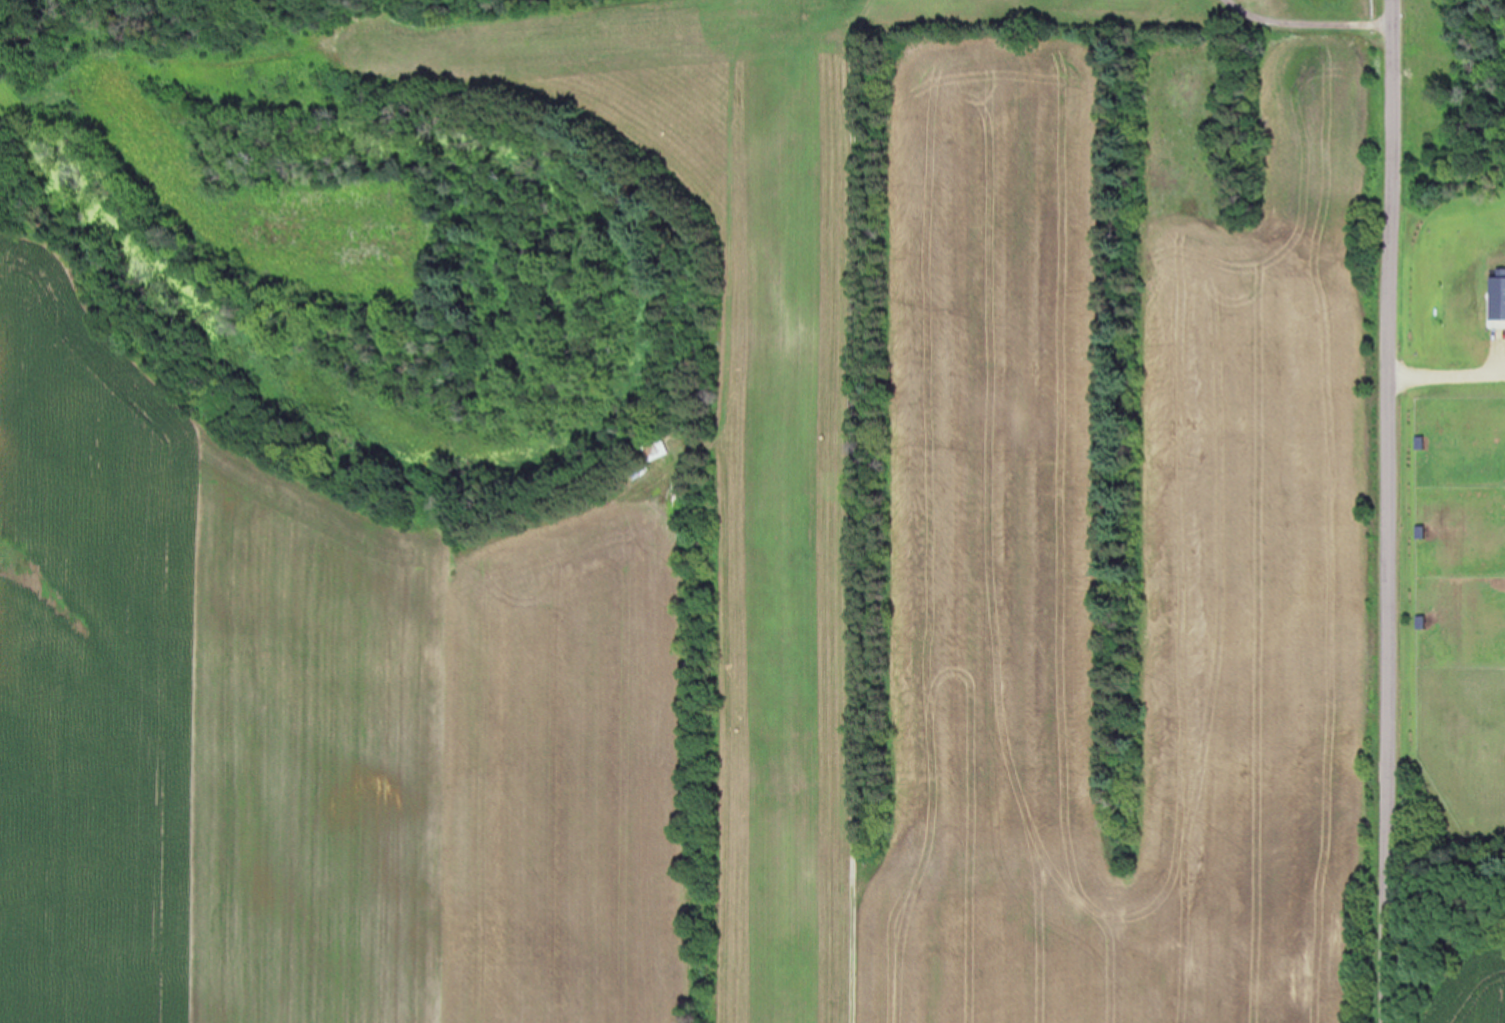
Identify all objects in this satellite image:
road: (1452, 375)
building: (672, 448)
road: (1398, 511)
airport runway: (786, 516)

